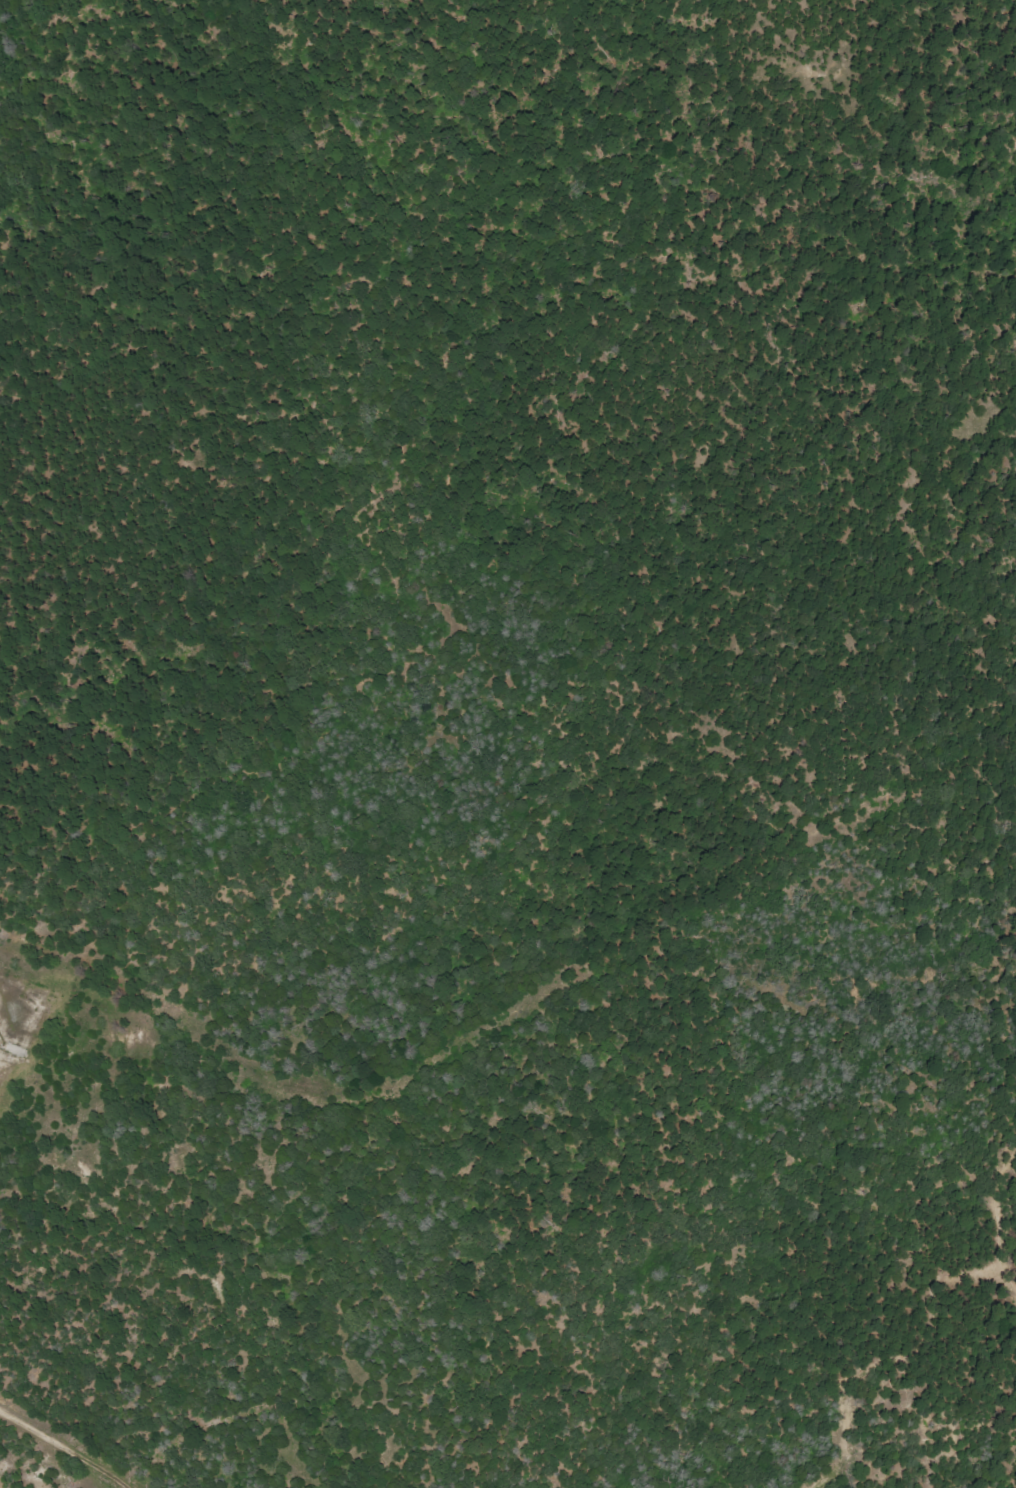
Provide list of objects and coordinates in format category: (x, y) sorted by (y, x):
road: (403, 534)
road: (69, 1441)
road: (18, 1472)

